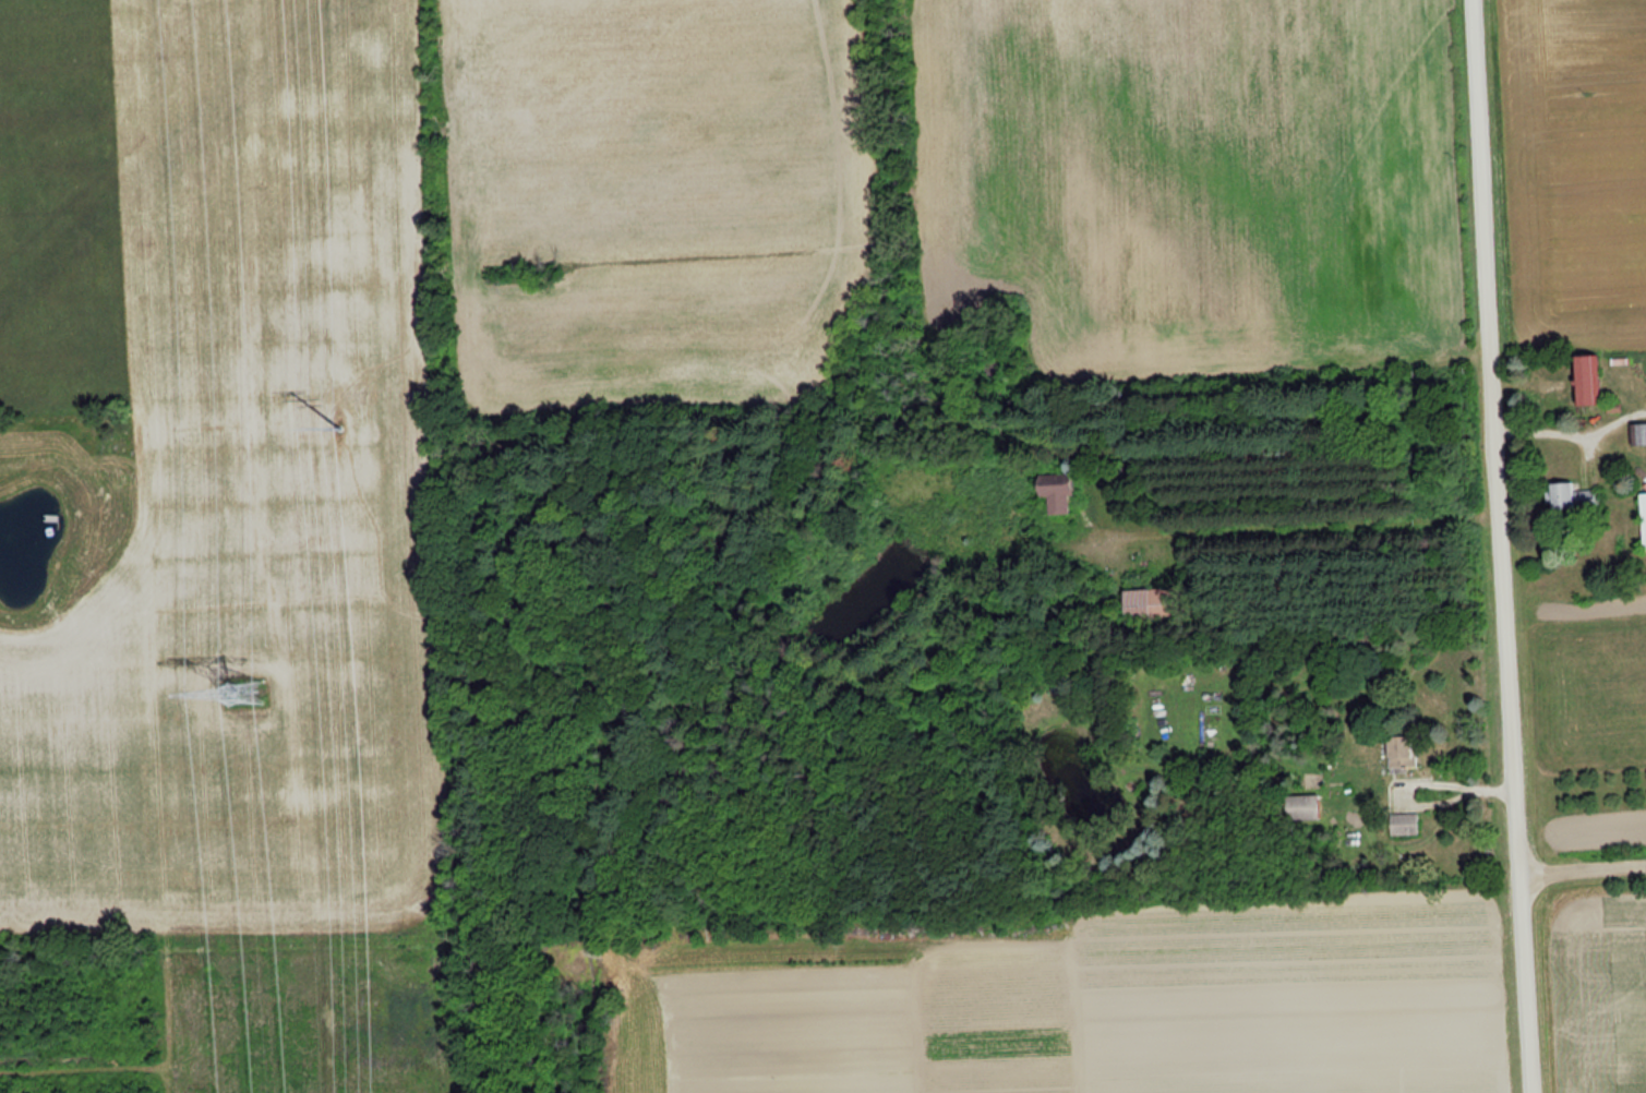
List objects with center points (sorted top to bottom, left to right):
building: (1585, 379)
power tower: (341, 422)
building: (1638, 433)
building: (1055, 492)
building: (1572, 497)
building: (1642, 520)
road: (1495, 546)
building: (1151, 604)
power tower: (237, 692)
building: (1398, 754)
road: (1415, 801)
building: (1299, 807)
building: (1403, 824)
road: (1579, 870)

